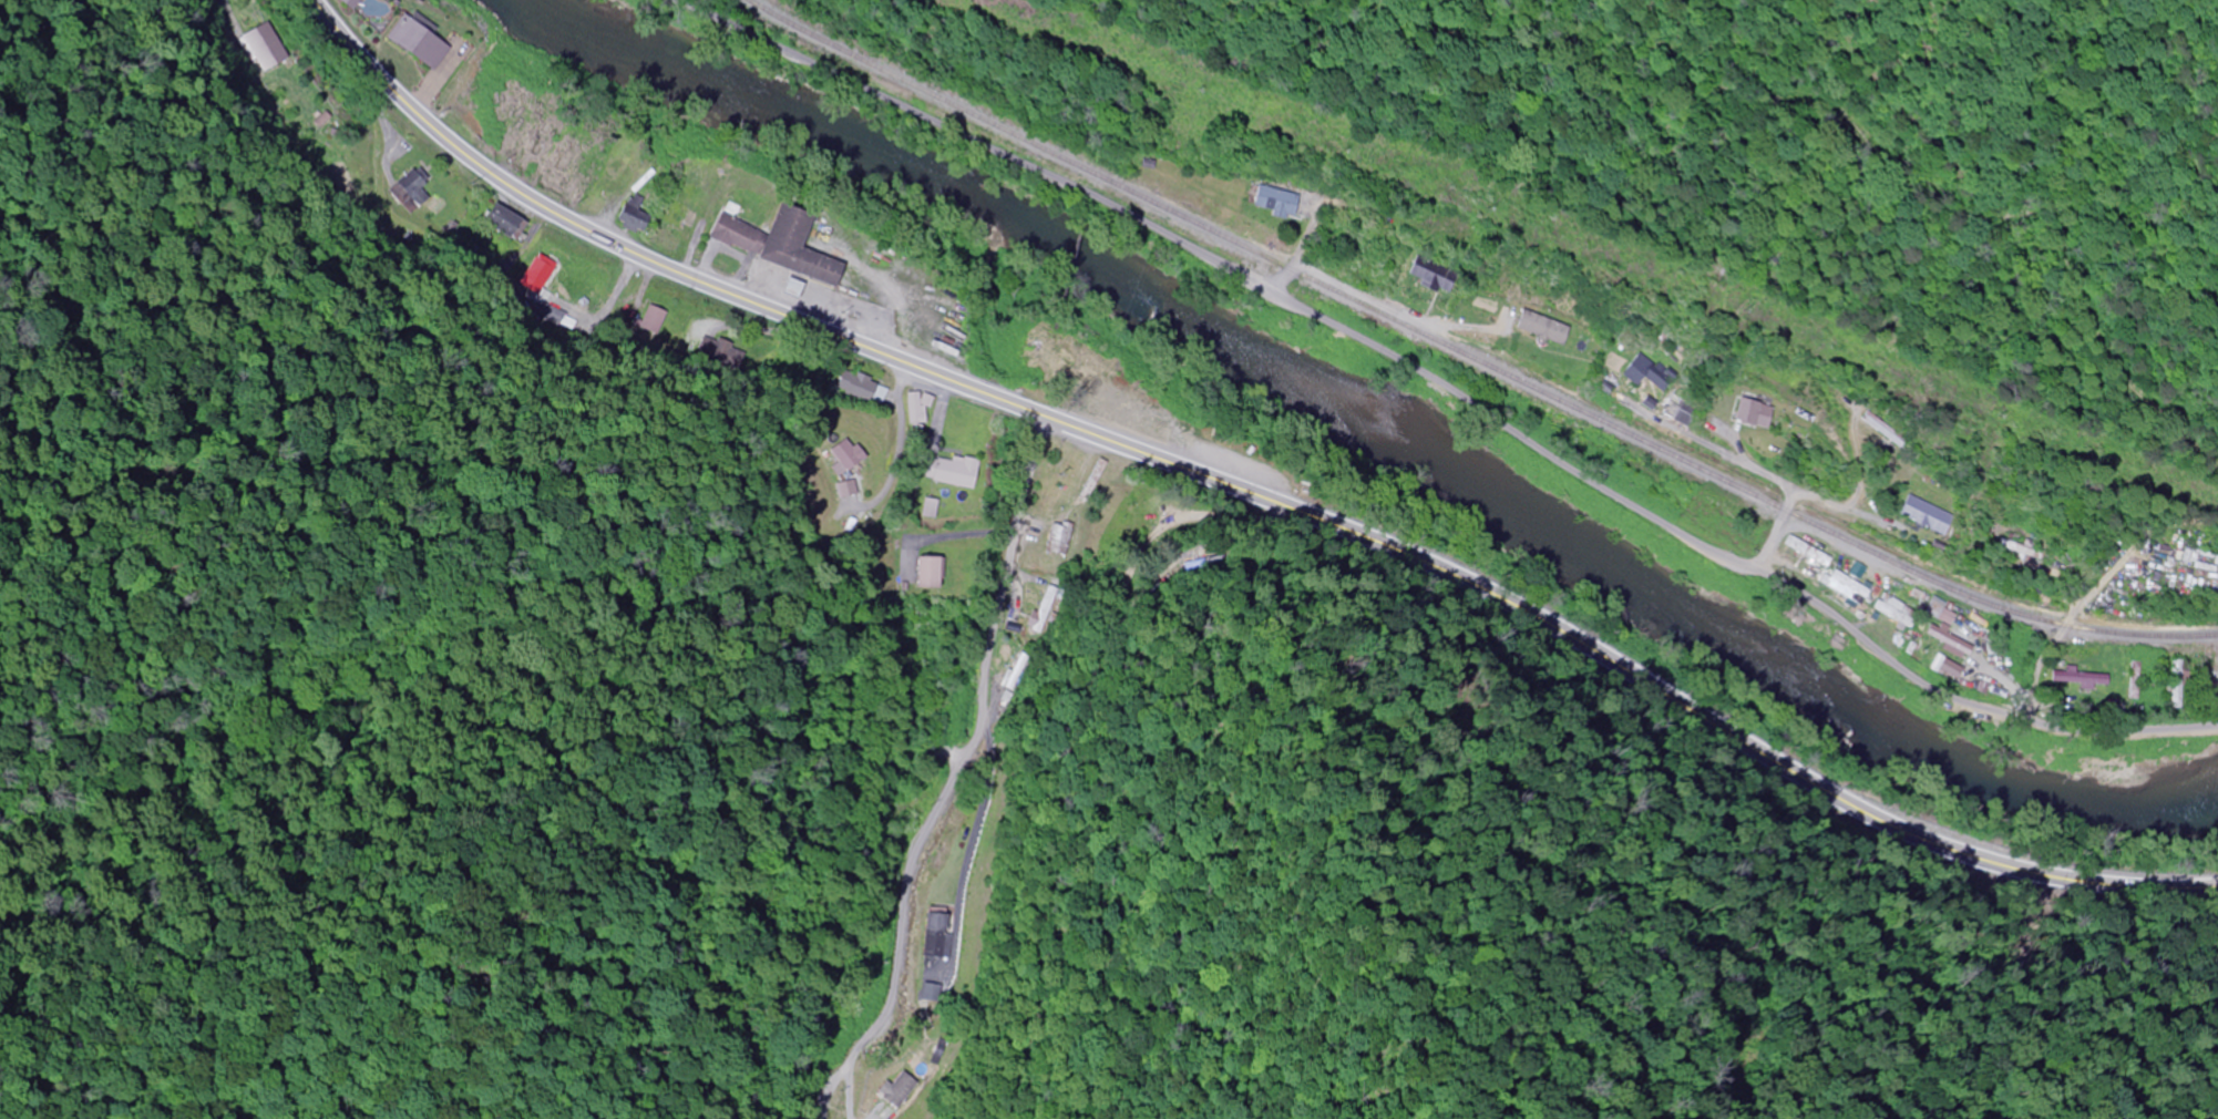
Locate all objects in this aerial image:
building: (425, 41)
building: (1281, 202)
building: (684, 218)
building: (784, 245)
building: (1434, 279)
road: (1349, 288)
building: (1539, 329)
railway: (1471, 357)
building: (1634, 369)
building: (871, 392)
road: (1451, 398)
building: (1672, 409)
building: (920, 411)
building: (1746, 413)
building: (1144, 418)
river: (1363, 444)
building: (855, 455)
road: (1749, 466)
building: (962, 471)
building: (1091, 481)
road: (1244, 487)
building: (1917, 515)
building: (1058, 540)
building: (2017, 551)
building: (1803, 552)
building: (934, 573)
building: (1841, 588)
road: (2098, 588)
building: (1043, 609)
building: (1949, 644)
building: (1014, 673)
road: (2044, 676)
building: (2070, 678)
building: (2128, 681)
building: (2211, 681)
building: (2168, 685)
road: (968, 774)
building: (937, 934)

